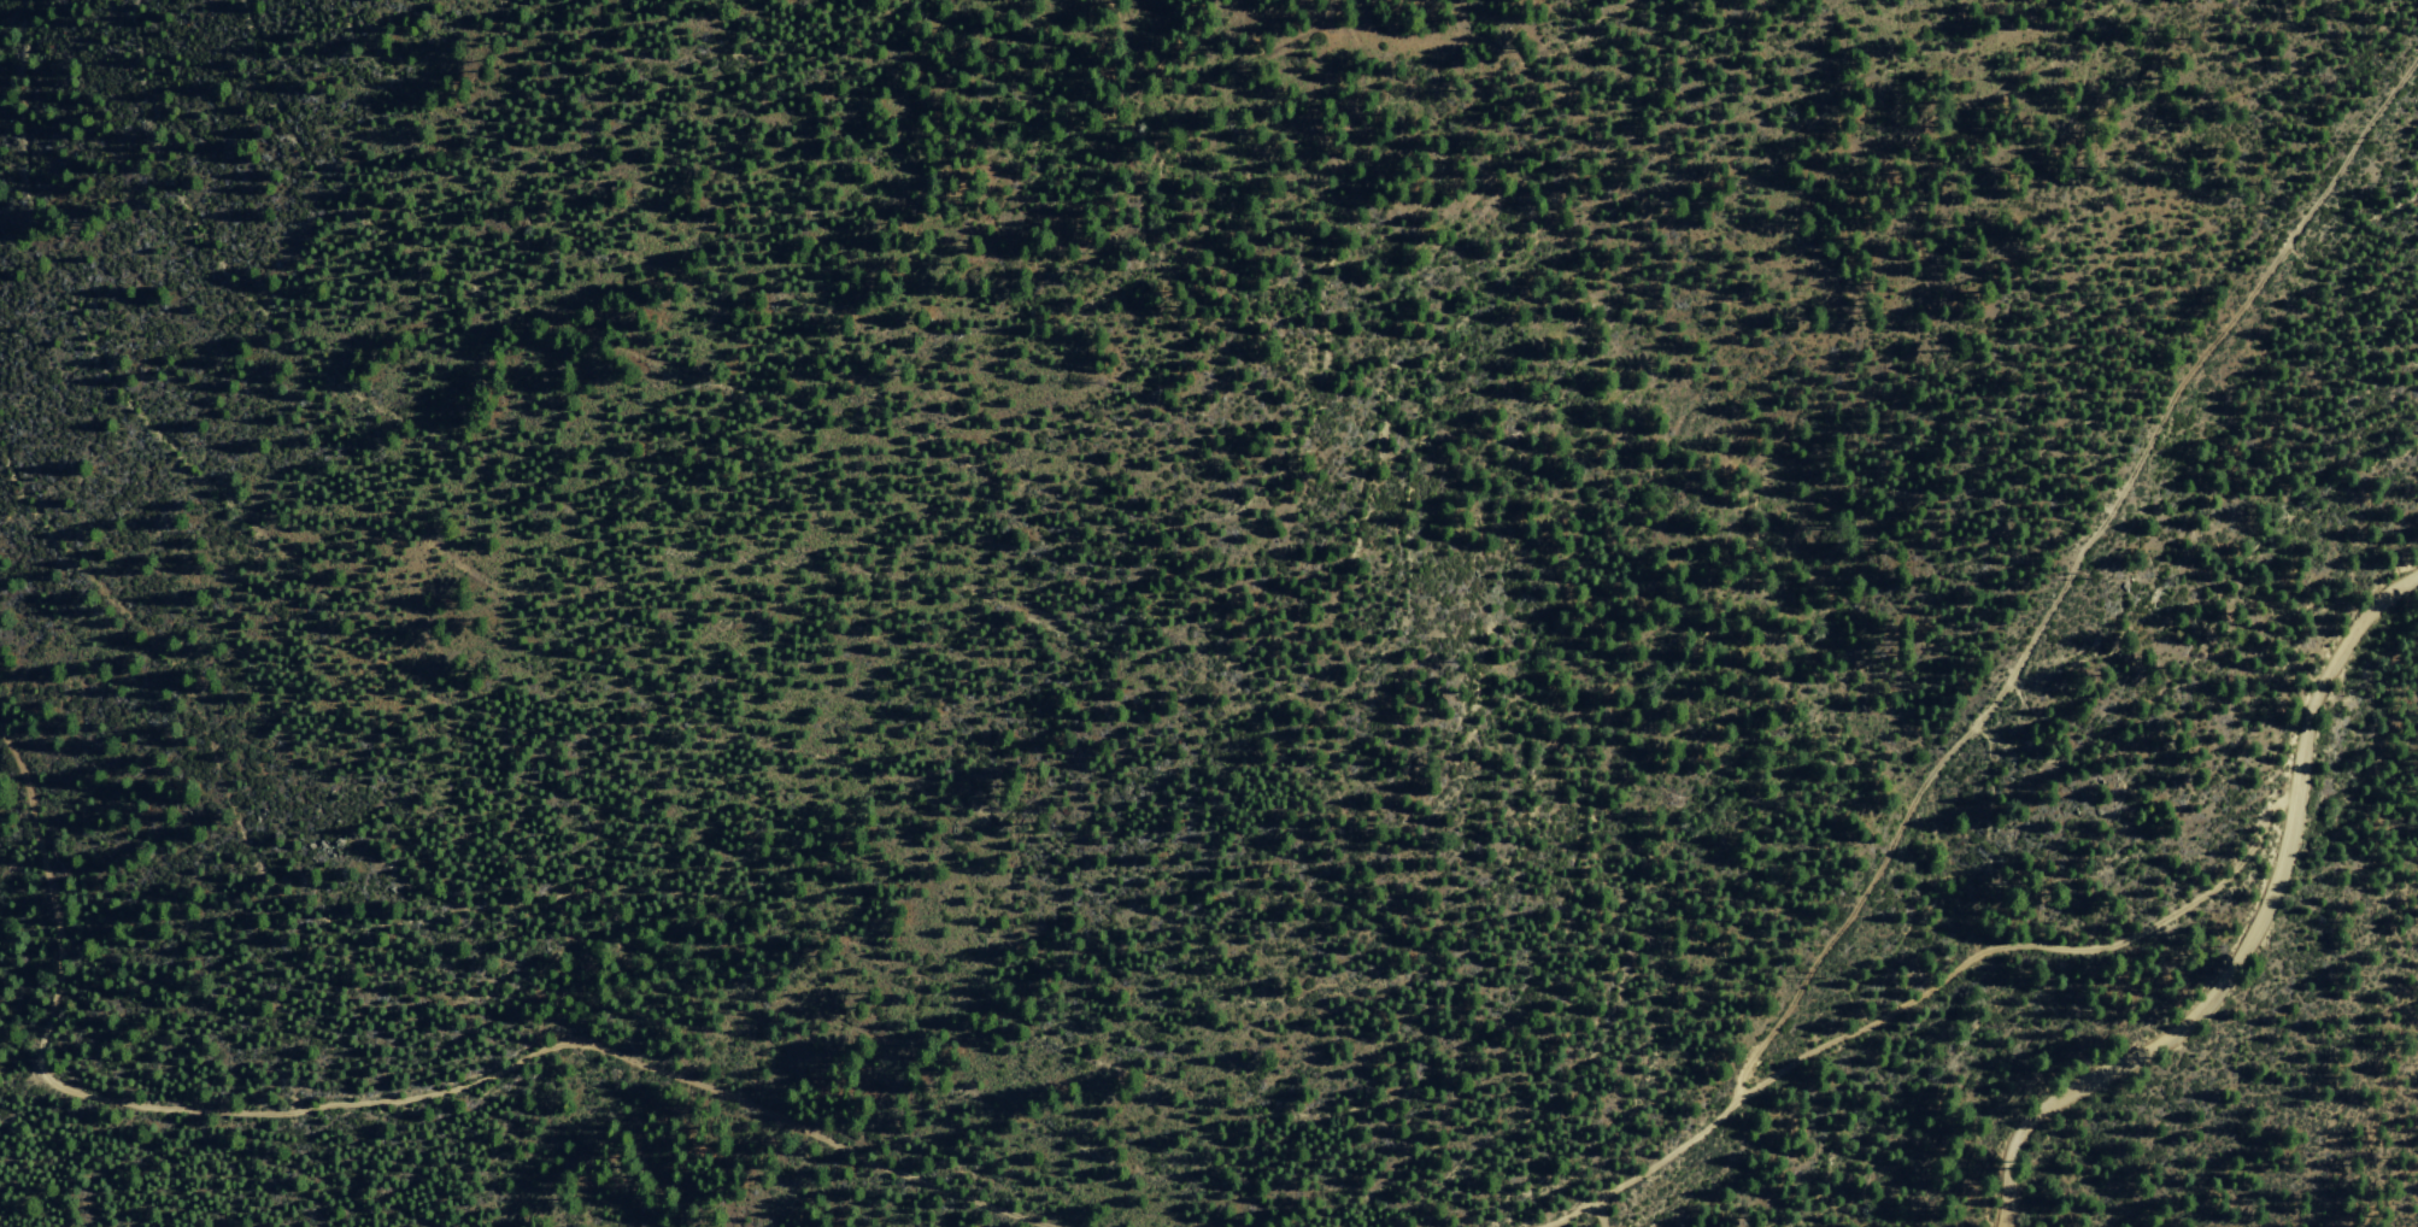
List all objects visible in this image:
power tower: (2364, 140)
road: (2062, 556)
power tower: (2079, 577)
road: (2254, 932)
road: (2032, 941)
power tower: (1814, 973)
road: (388, 1098)
road: (1672, 1152)
road: (1592, 1215)
road: (1573, 1216)

